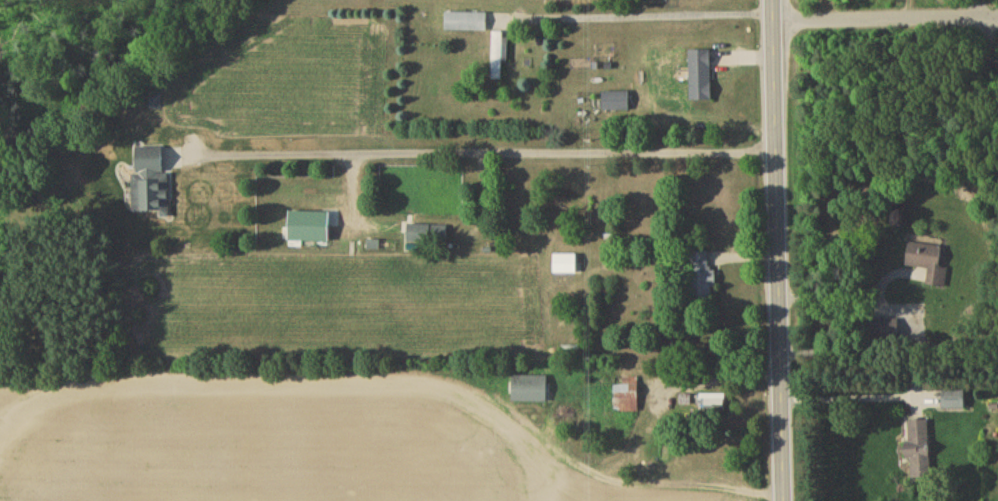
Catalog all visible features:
road: (642, 17)
building: (466, 24)
road: (886, 24)
building: (499, 59)
building: (701, 78)
building: (616, 104)
road: (491, 154)
building: (151, 183)
building: (301, 234)
building: (428, 236)
road: (778, 250)
building: (929, 265)
building: (565, 266)
building: (703, 279)
road: (850, 303)
building: (884, 332)
building: (530, 391)
building: (627, 397)
road: (849, 400)
building: (954, 402)
building: (711, 405)
building: (919, 452)
road: (648, 472)

